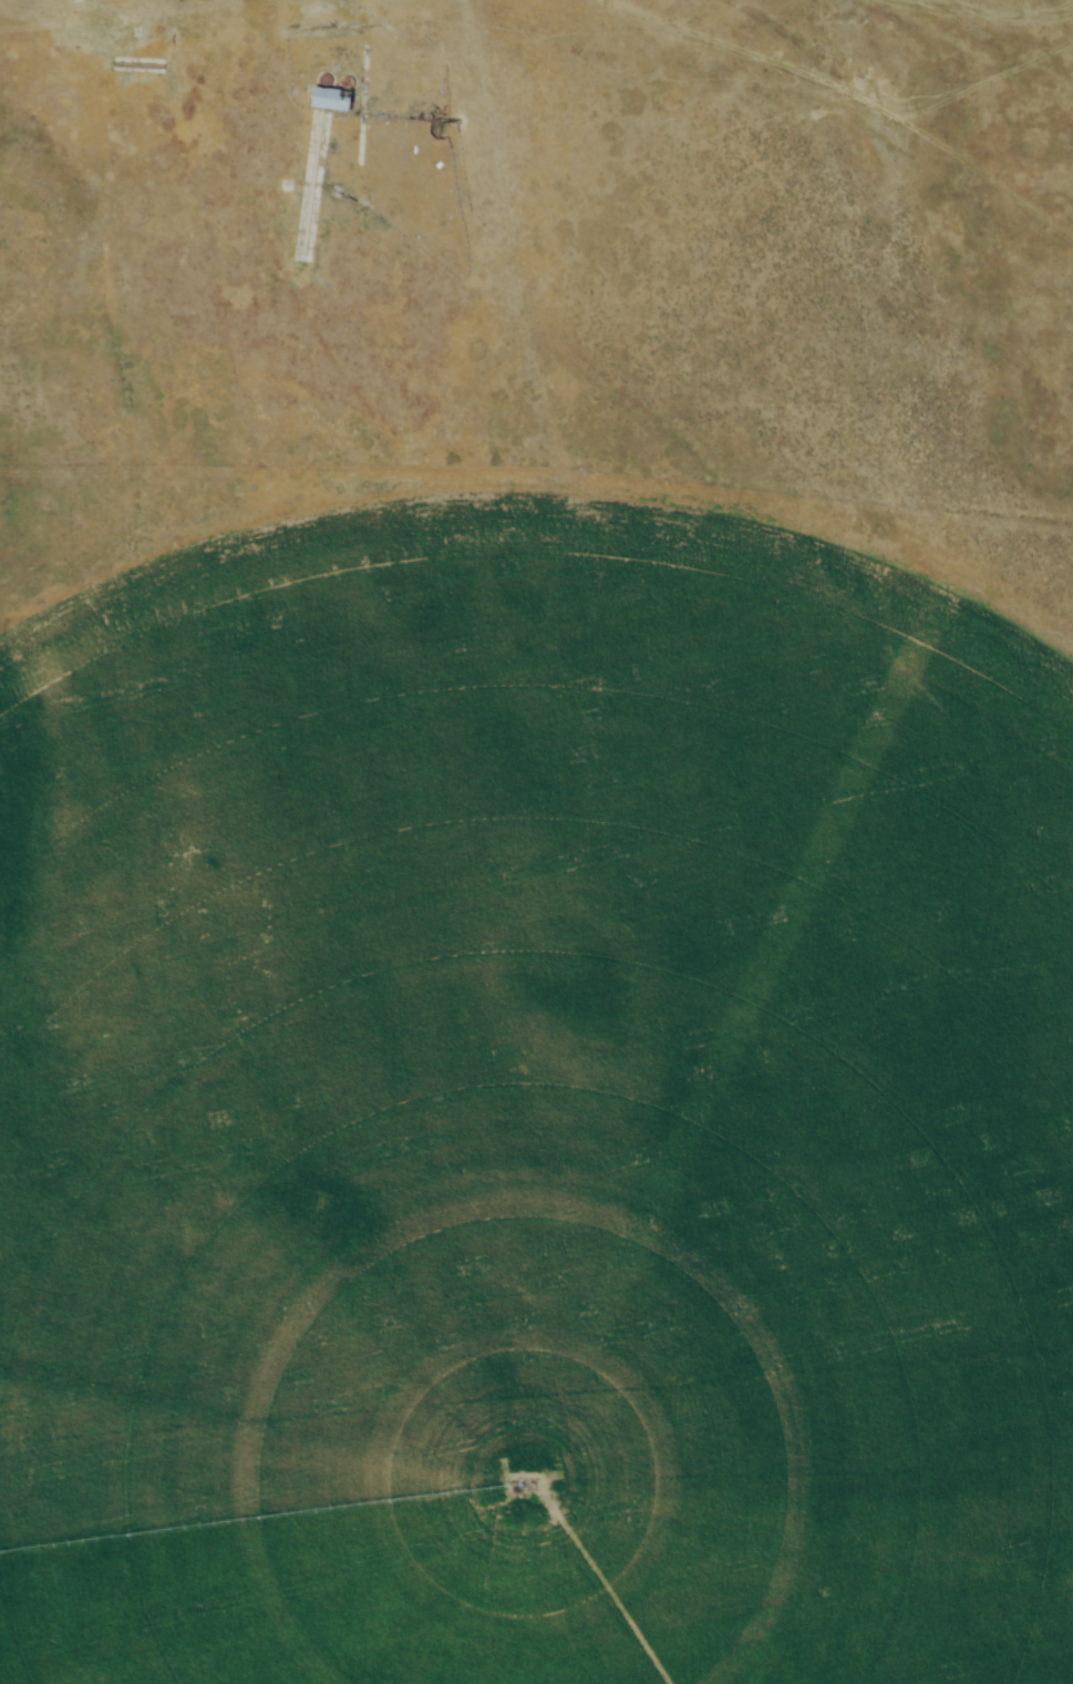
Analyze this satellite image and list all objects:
road: (430, 68)
building: (336, 96)
crop: (535, 1115)

